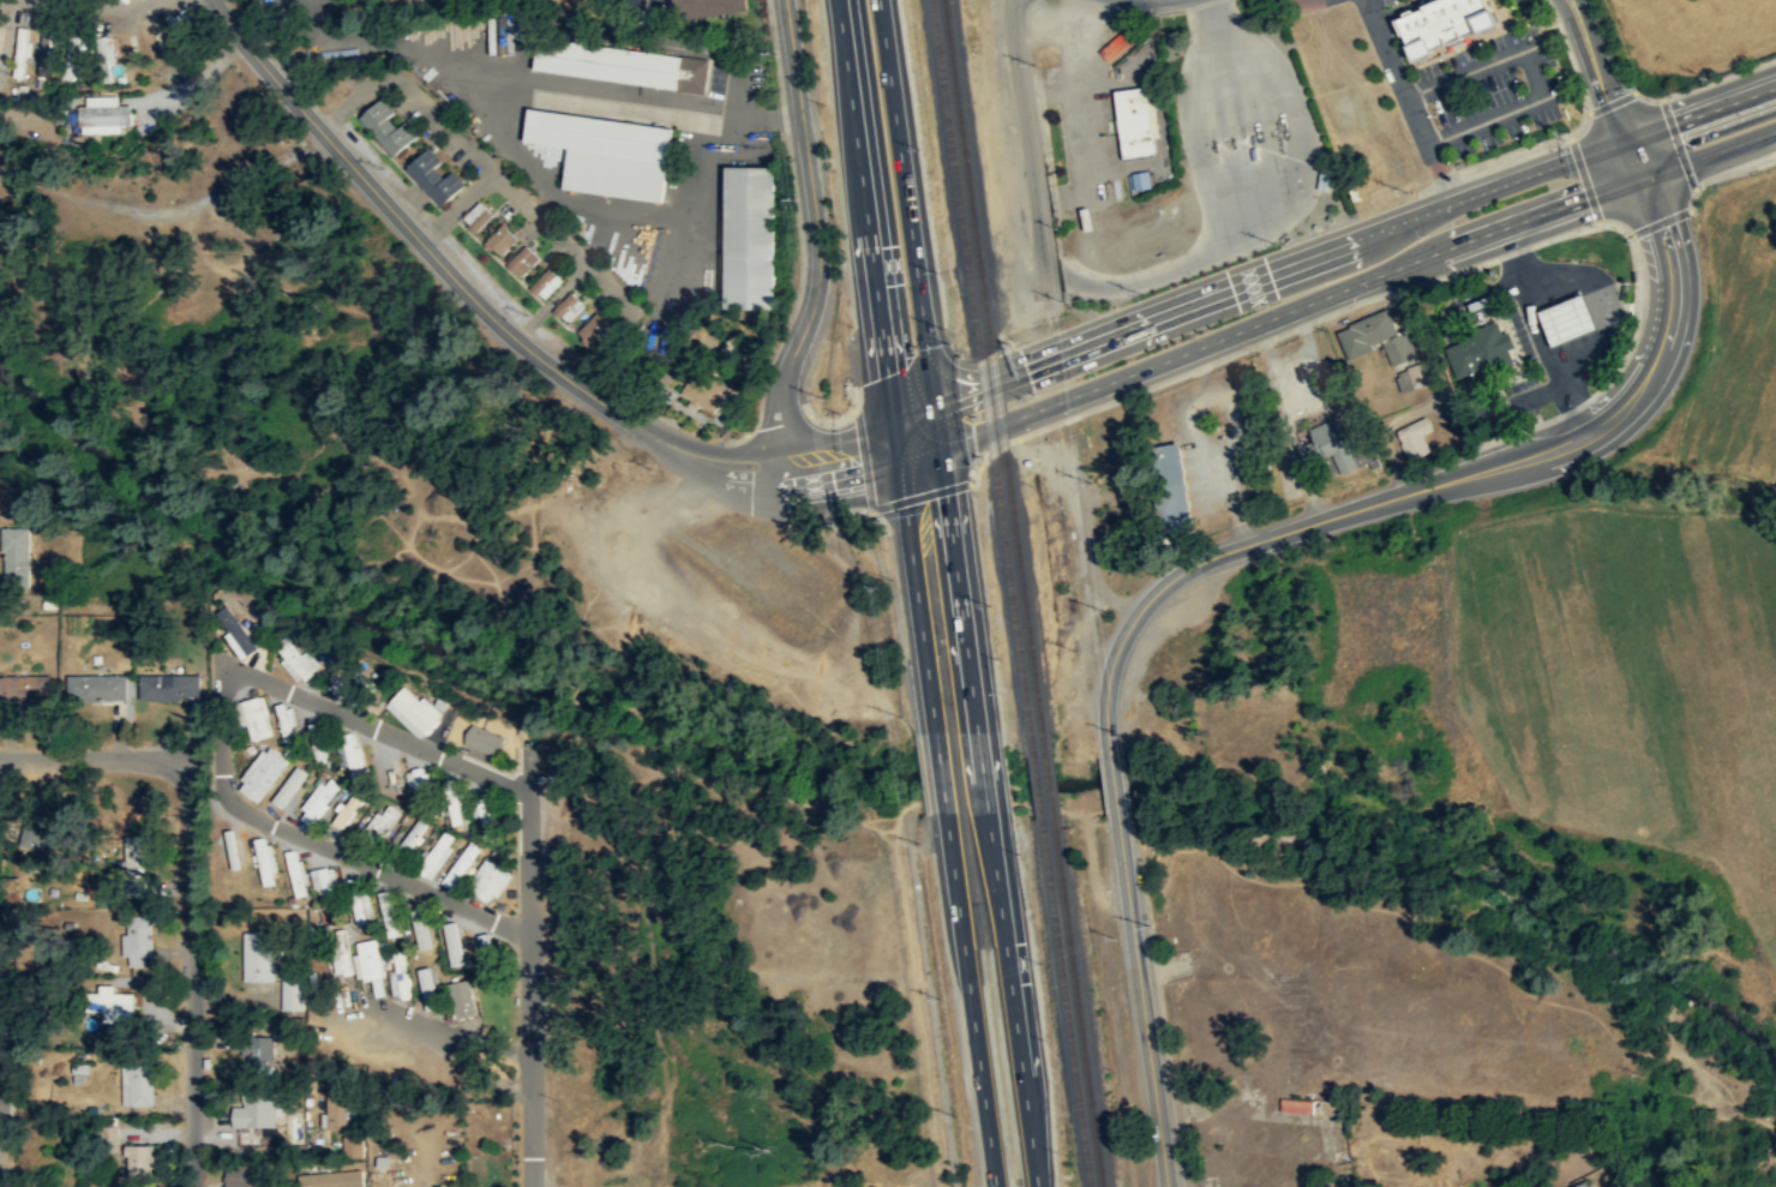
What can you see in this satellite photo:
building: (704, 7)
road: (1396, 8)
building: (1444, 22)
road: (1531, 23)
building: (181, 25)
building: (0, 35)
building: (1116, 46)
building: (22, 50)
building: (46, 54)
building: (623, 64)
road: (1596, 70)
road: (1532, 71)
road: (1410, 101)
road: (1703, 110)
building: (103, 114)
building: (1133, 119)
building: (388, 126)
building: (606, 151)
road: (1640, 157)
traffic signals: (1640, 157)
building: (1325, 175)
gas station: (1325, 175)
building: (434, 176)
building: (1141, 180)
road: (907, 202)
building: (476, 216)
building: (752, 236)
road: (818, 236)
building: (500, 239)
road: (1516, 254)
building: (523, 259)
road: (1282, 269)
building: (546, 282)
road: (1337, 292)
building: (568, 306)
building: (1572, 319)
road: (503, 326)
building: (594, 328)
building: (1378, 337)
building: (1484, 350)
road: (886, 364)
railway: (995, 374)
railway: (982, 376)
building: (1415, 376)
building: (704, 391)
road: (916, 425)
building: (1416, 437)
building: (1334, 446)
building: (1178, 486)
road: (1424, 490)
building: (16, 553)
road: (955, 564)
building: (238, 636)
building: (299, 661)
building: (353, 679)
building: (97, 687)
building: (169, 687)
building: (16, 690)
building: (415, 711)
building: (258, 718)
building: (287, 724)
building: (484, 739)
road: (431, 751)
building: (350, 756)
building: (263, 773)
building: (422, 777)
road: (983, 777)
road: (942, 781)
road: (1114, 783)
railway: (1050, 789)
railway: (1038, 790)
building: (318, 799)
building: (348, 809)
building: (486, 814)
building: (384, 819)
building: (46, 835)
building: (438, 855)
building: (265, 863)
road: (379, 871)
building: (295, 874)
building: (139, 877)
building: (490, 879)
building: (325, 882)
road: (188, 889)
building: (384, 899)
building: (359, 915)
building: (420, 924)
building: (137, 941)
building: (257, 954)
building: (490, 960)
building: (342, 964)
building: (368, 964)
building: (397, 975)
building: (293, 993)
building: (463, 997)
road: (1141, 999)
building: (112, 1003)
railway: (1068, 1007)
railway: (1079, 1007)
road: (530, 1008)
road: (1013, 1008)
road: (972, 1011)
road: (438, 1036)
building: (257, 1054)
building: (138, 1085)
building: (6, 1101)
building: (1297, 1105)
building: (256, 1110)
building: (337, 1110)
road: (532, 1133)
building: (353, 1147)
building: (139, 1161)
building: (242, 1175)
building: (328, 1180)
building: (1584, 1185)

